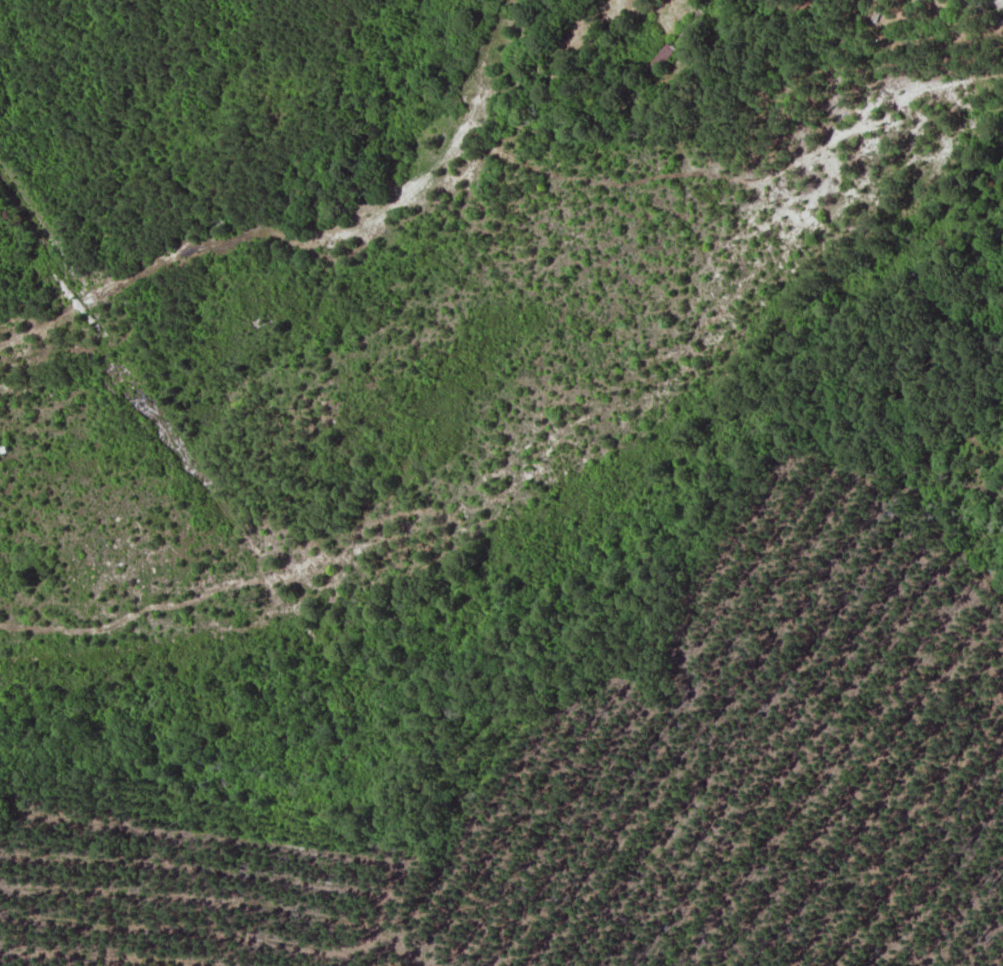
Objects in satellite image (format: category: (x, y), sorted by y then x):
building: (663, 60)

